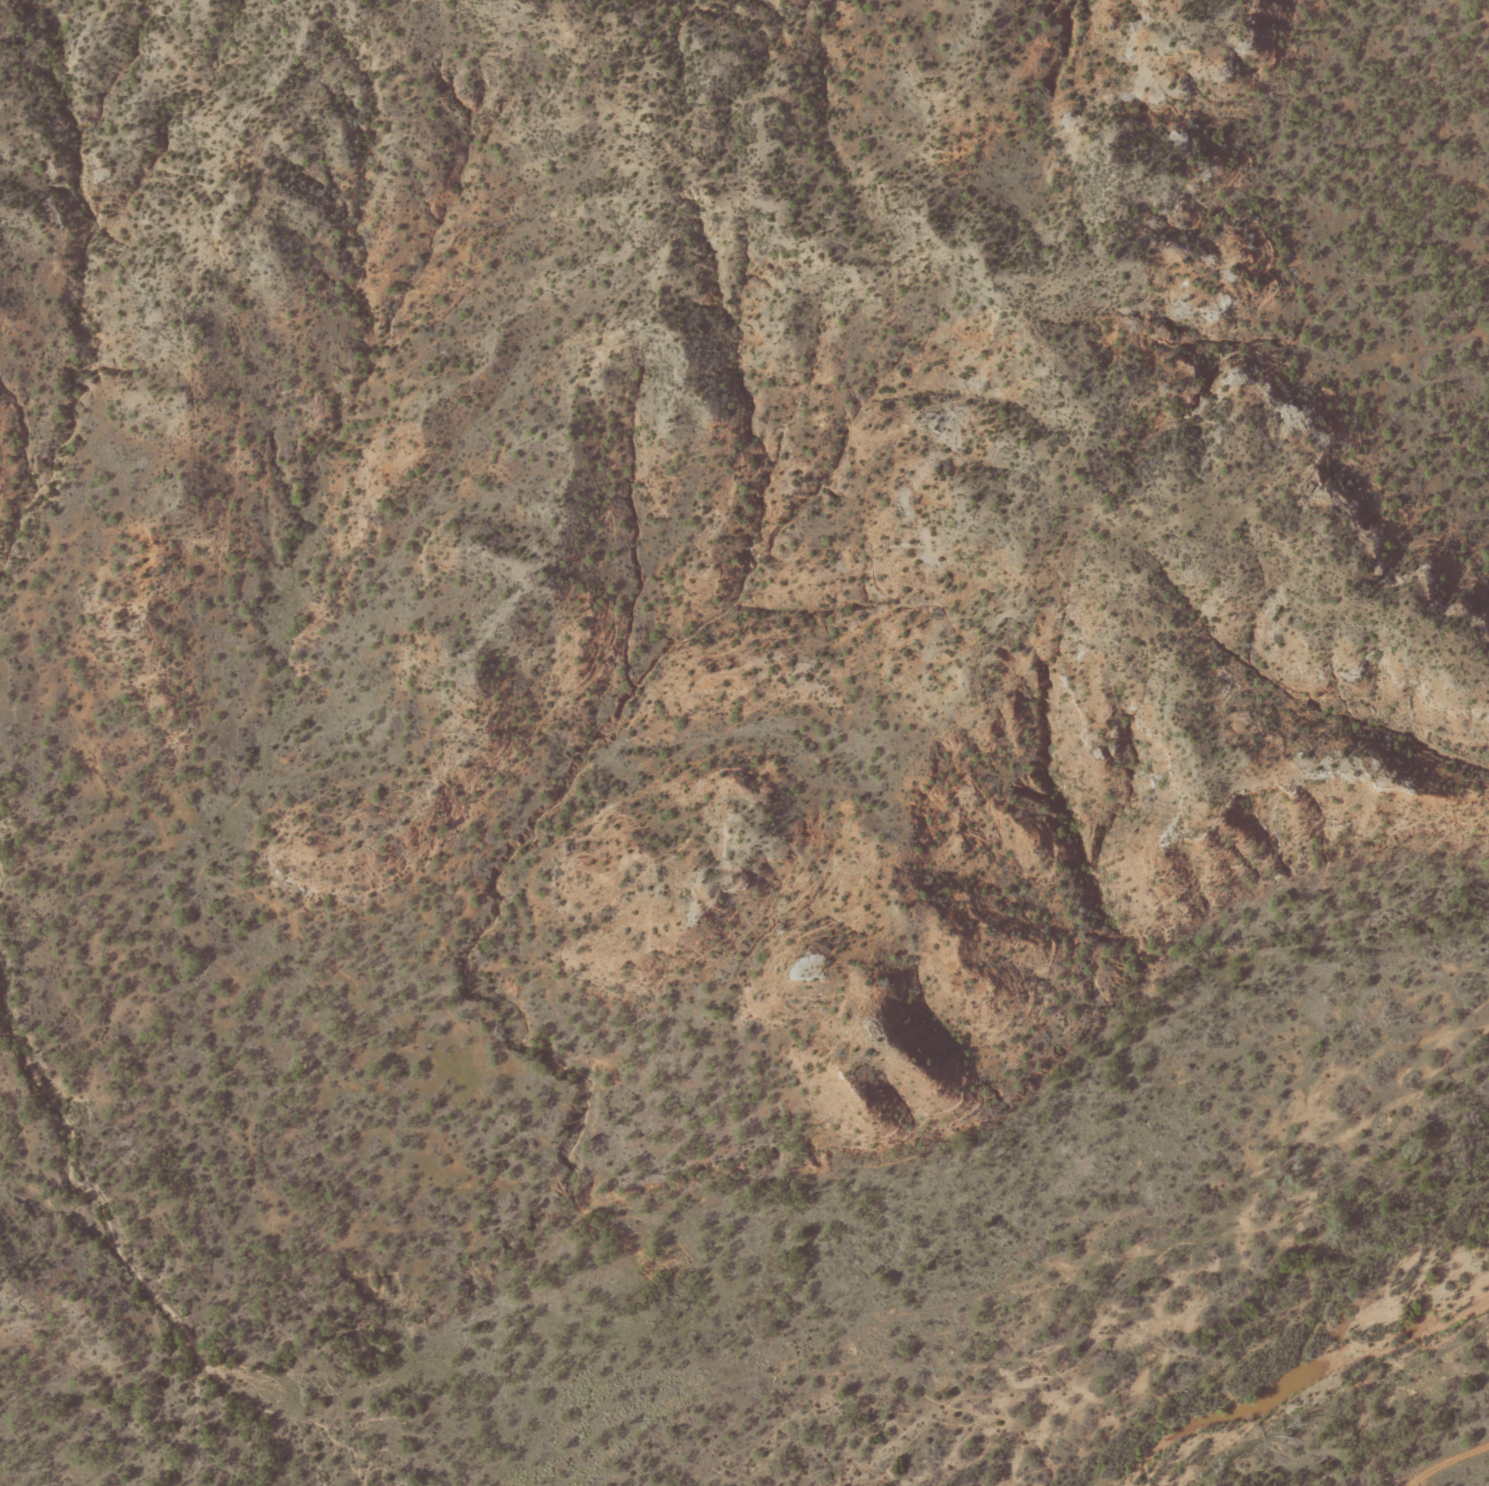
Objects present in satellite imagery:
road: (1458, 1466)

